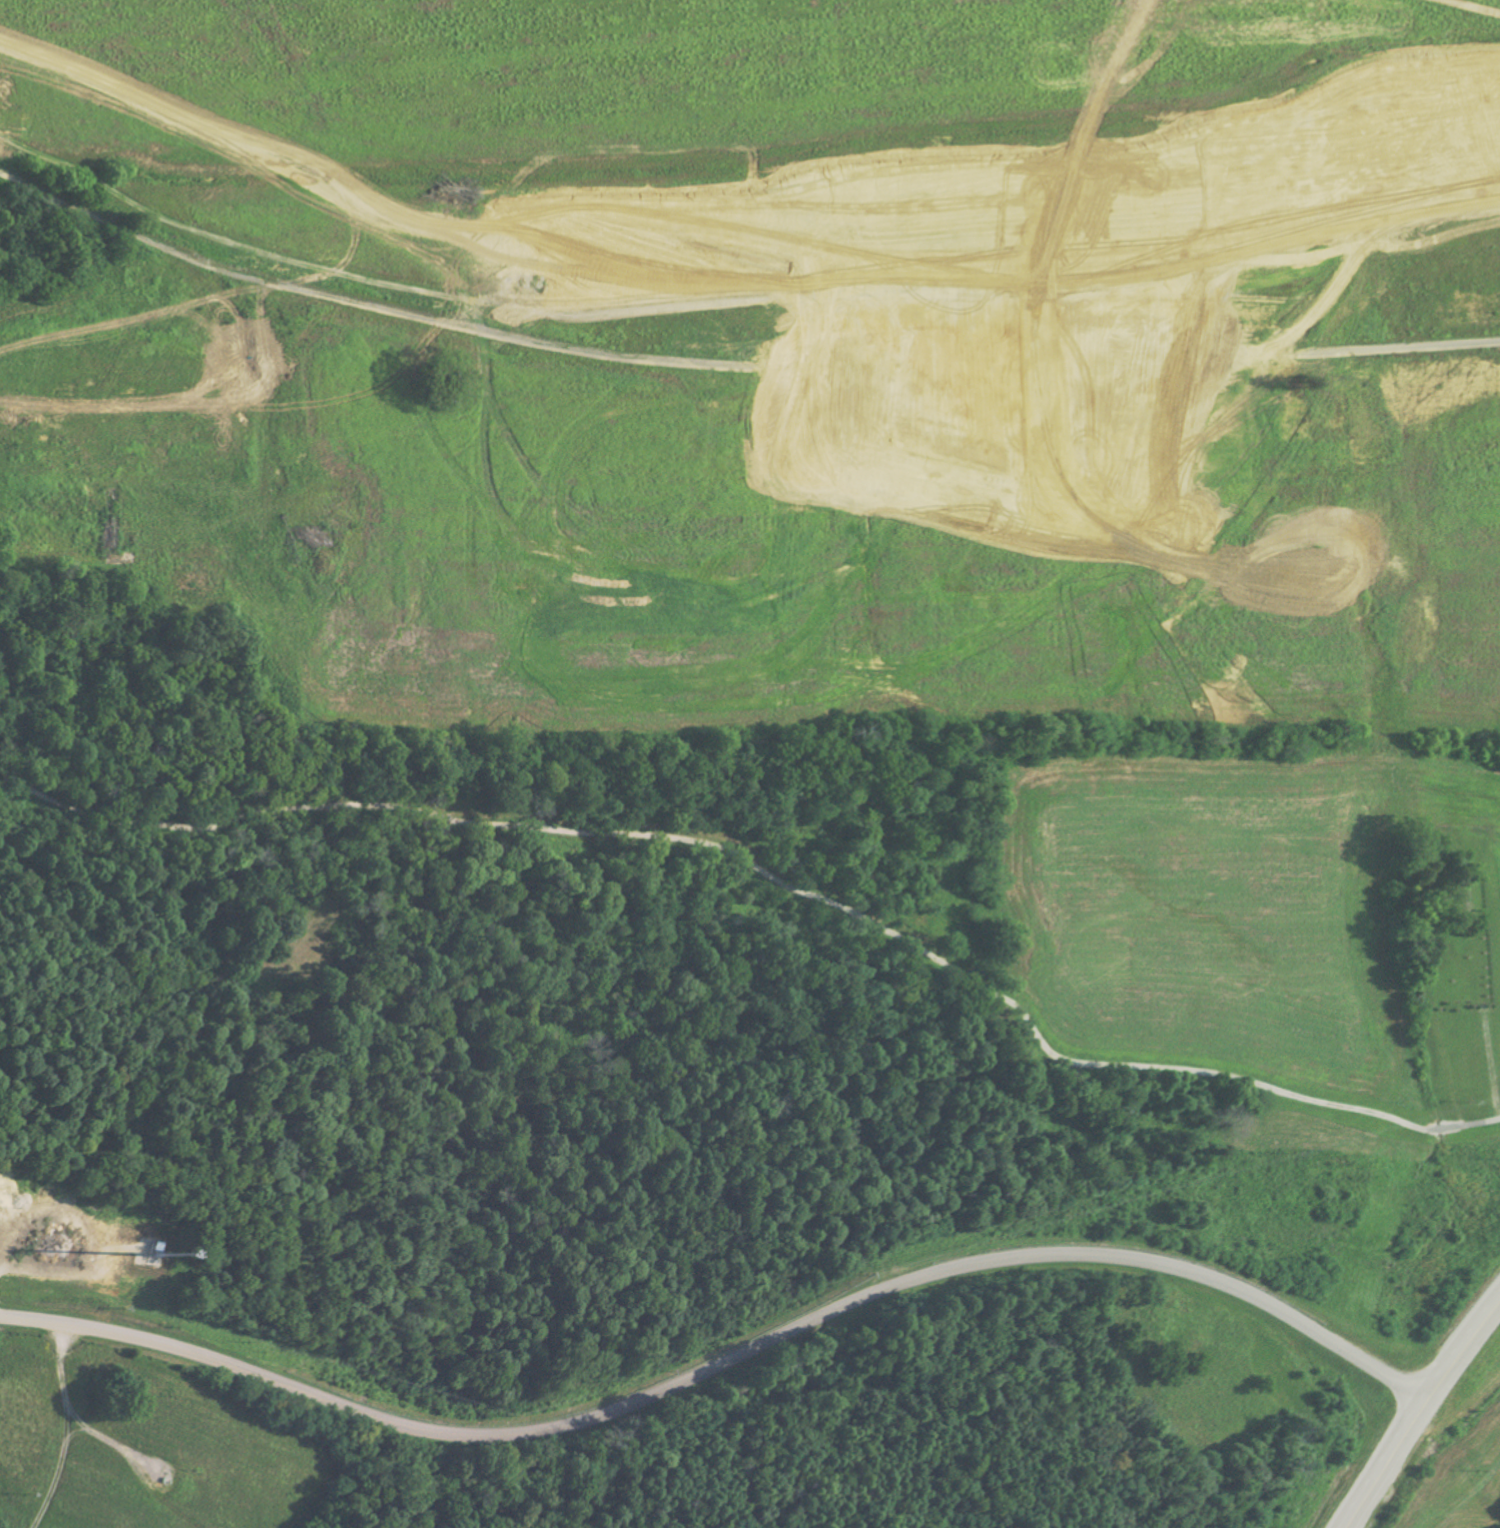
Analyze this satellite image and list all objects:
road: (734, 366)
road: (784, 1330)
road: (67, 1429)
road: (1378, 1462)

